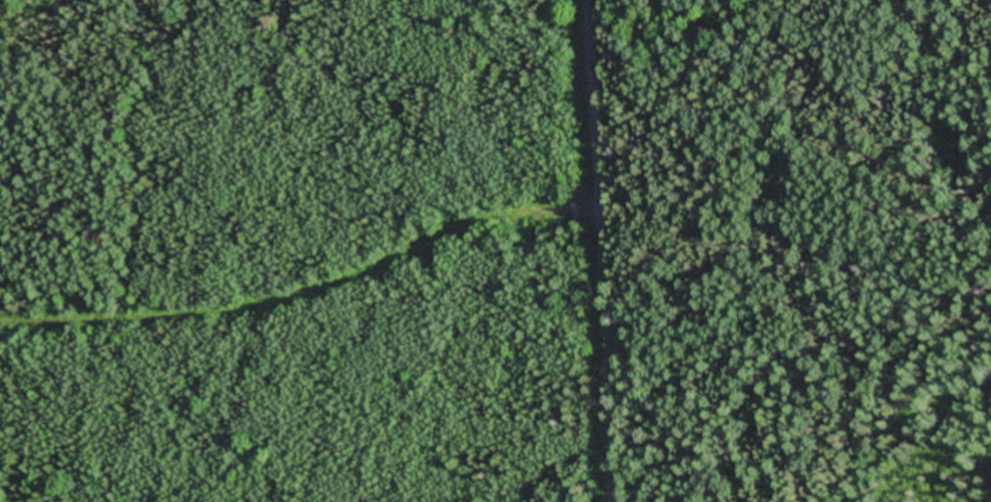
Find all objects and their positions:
road: (597, 251)
road: (305, 299)

